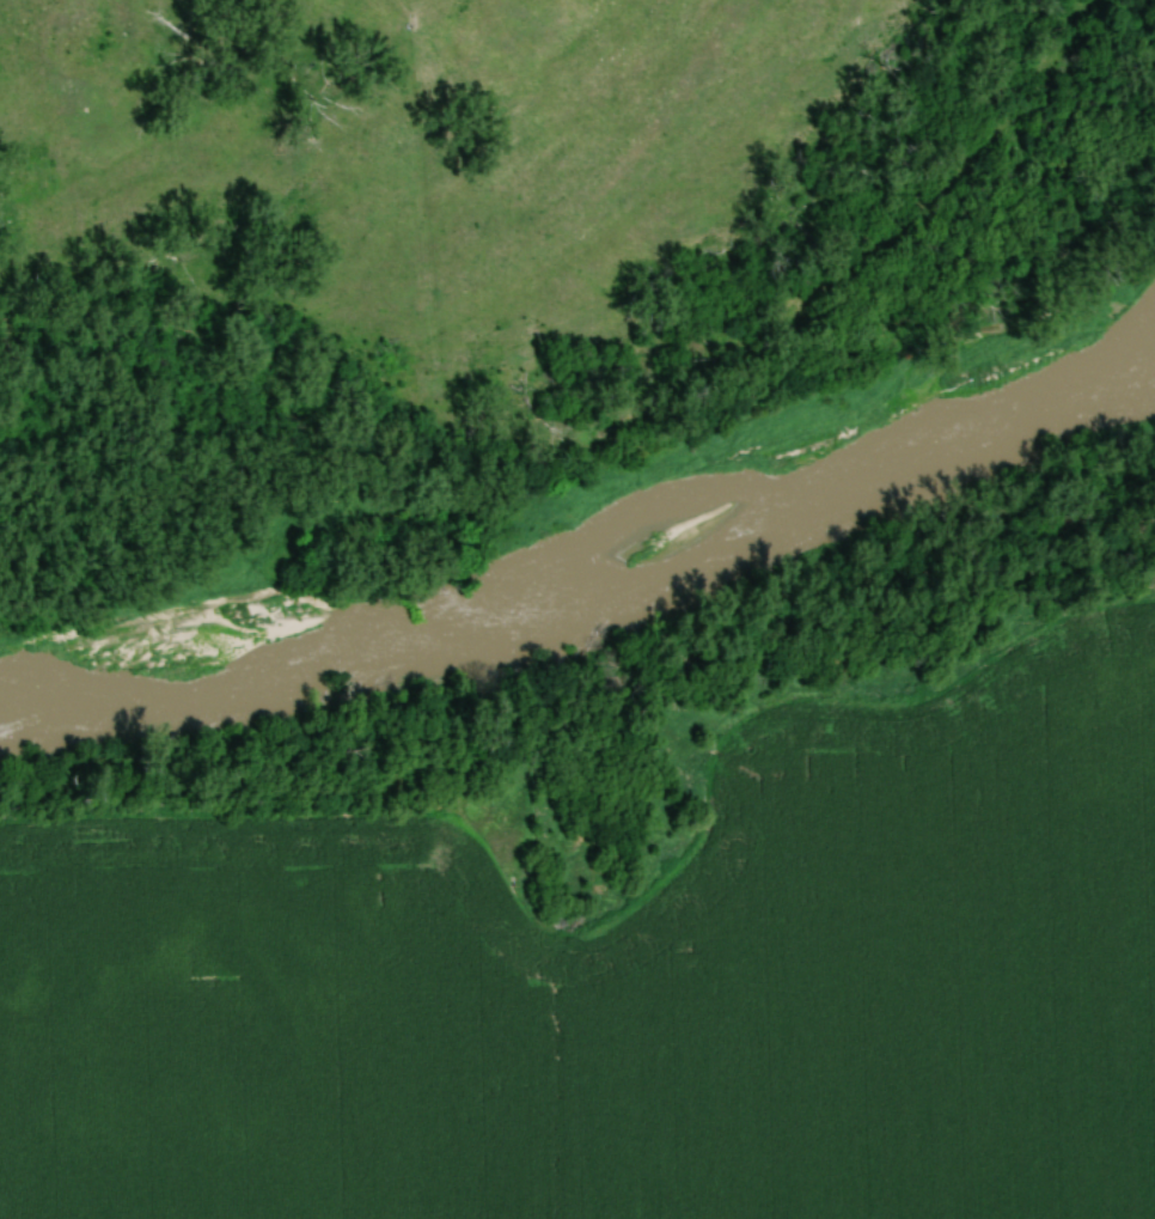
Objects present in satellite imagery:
river: (585, 585)

